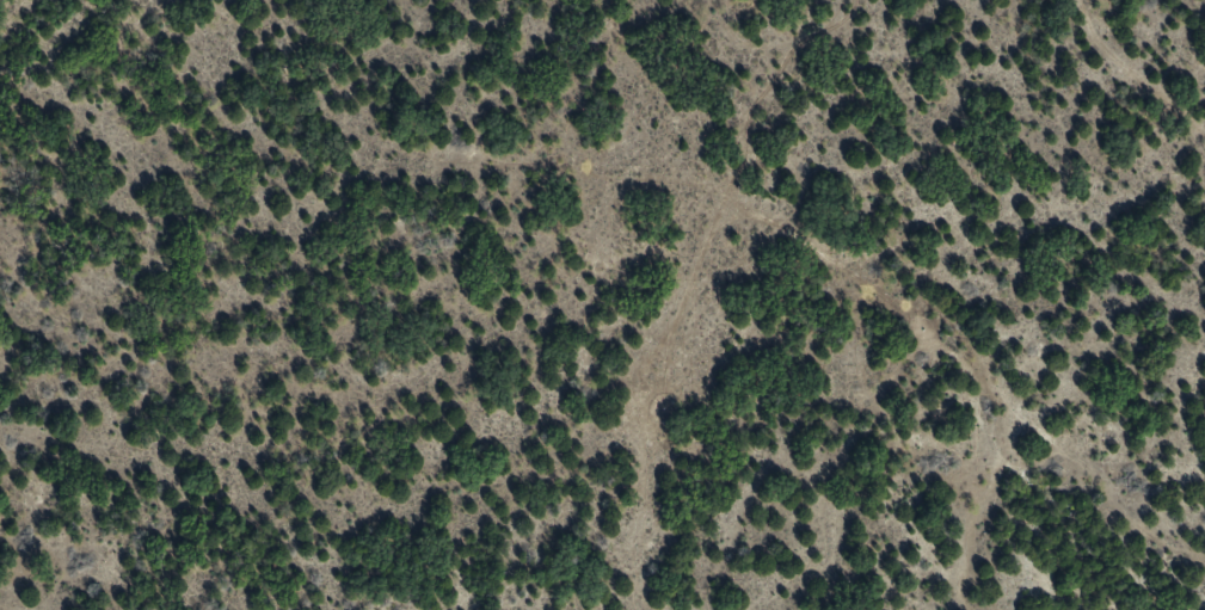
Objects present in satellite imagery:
road: (1160, 35)

